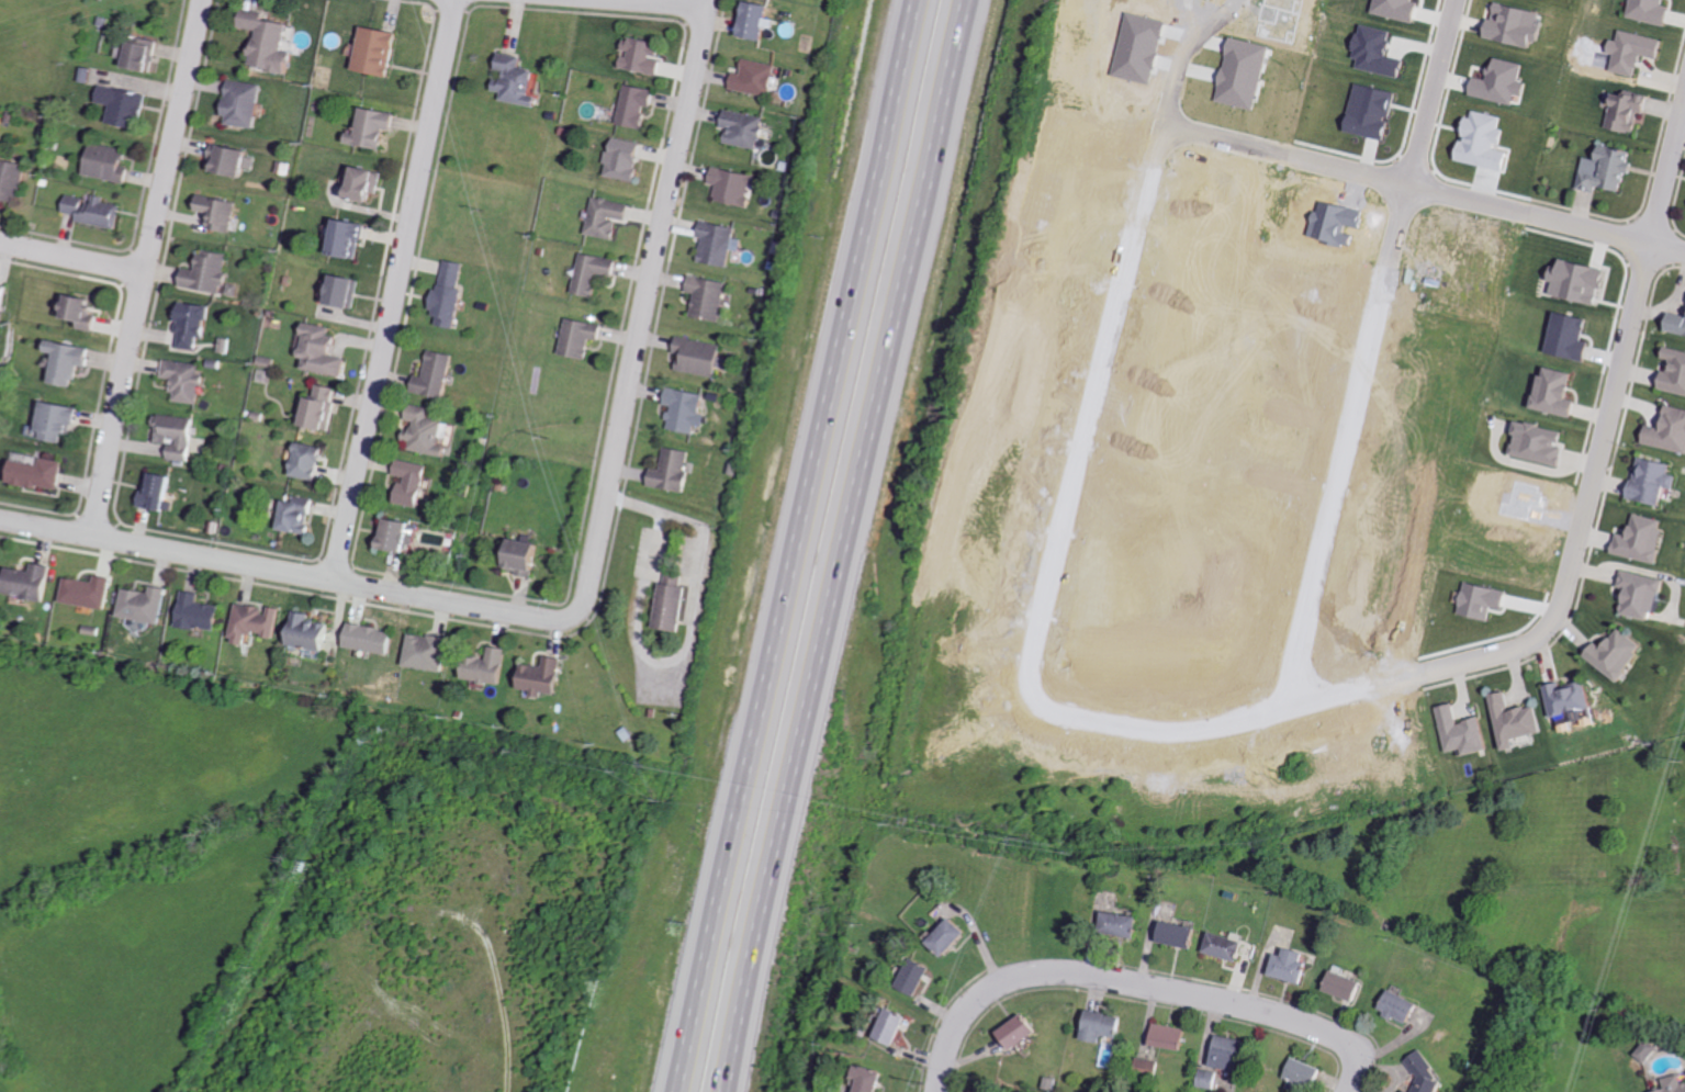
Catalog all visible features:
road: (651, 4)
building: (1400, 9)
building: (1655, 10)
building: (760, 19)
building: (1517, 24)
building: (271, 41)
building: (380, 50)
building: (1637, 50)
building: (1379, 52)
building: (143, 53)
building: (644, 55)
building: (1244, 72)
building: (756, 77)
building: (519, 80)
building: (1503, 81)
road: (1428, 91)
building: (245, 103)
building: (639, 104)
building: (127, 105)
building: (1631, 110)
building: (1374, 111)
building: (377, 127)
building: (746, 128)
building: (234, 159)
building: (627, 159)
building: (112, 162)
building: (1613, 169)
building: (12, 180)
building: (369, 183)
building: (737, 185)
road: (1424, 187)
building: (99, 210)
building: (222, 211)
building: (610, 216)
building: (351, 237)
building: (720, 243)
road: (72, 258)
road: (147, 269)
building: (211, 271)
building: (597, 272)
building: (1583, 280)
building: (347, 290)
road: (397, 292)
building: (452, 292)
building: (710, 296)
building: (7, 297)
road: (645, 309)
building: (88, 312)
building: (193, 323)
building: (1678, 323)
building: (584, 336)
building: (1573, 336)
building: (324, 350)
road: (1104, 352)
building: (700, 356)
building: (74, 361)
building: (1675, 372)
building: (438, 374)
building: (187, 380)
building: (1560, 392)
building: (323, 407)
building: (686, 409)
building: (63, 420)
building: (428, 431)
building: (1671, 431)
building: (178, 435)
building: (1541, 442)
road: (1340, 444)
building: (312, 461)
building: (673, 470)
building: (40, 471)
building: (1655, 481)
building: (417, 482)
building: (158, 491)
building: (300, 515)
building: (405, 534)
building: (1645, 539)
road: (798, 545)
road: (846, 545)
road: (285, 573)
building: (32, 582)
building: (89, 592)
building: (1645, 593)
building: (1485, 600)
building: (673, 603)
building: (146, 604)
building: (201, 612)
building: (259, 621)
road: (1546, 624)
building: (314, 632)
building: (375, 638)
building: (431, 652)
building: (1621, 654)
building: (488, 666)
building: (543, 676)
building: (1575, 701)
building: (1520, 721)
building: (1467, 732)
building: (1123, 925)
building: (1180, 935)
building: (954, 937)
building: (1227, 947)
building: (1293, 966)
building: (919, 977)
road: (1137, 983)
building: (1348, 986)
building: (1405, 1007)
building: (1104, 1026)
building: (895, 1027)
building: (1022, 1032)
building: (1172, 1037)
building: (1650, 1050)
building: (1232, 1052)
building: (1307, 1073)
building: (1430, 1073)
building: (872, 1079)
building: (1675, 1084)
building: (1412, 1091)

